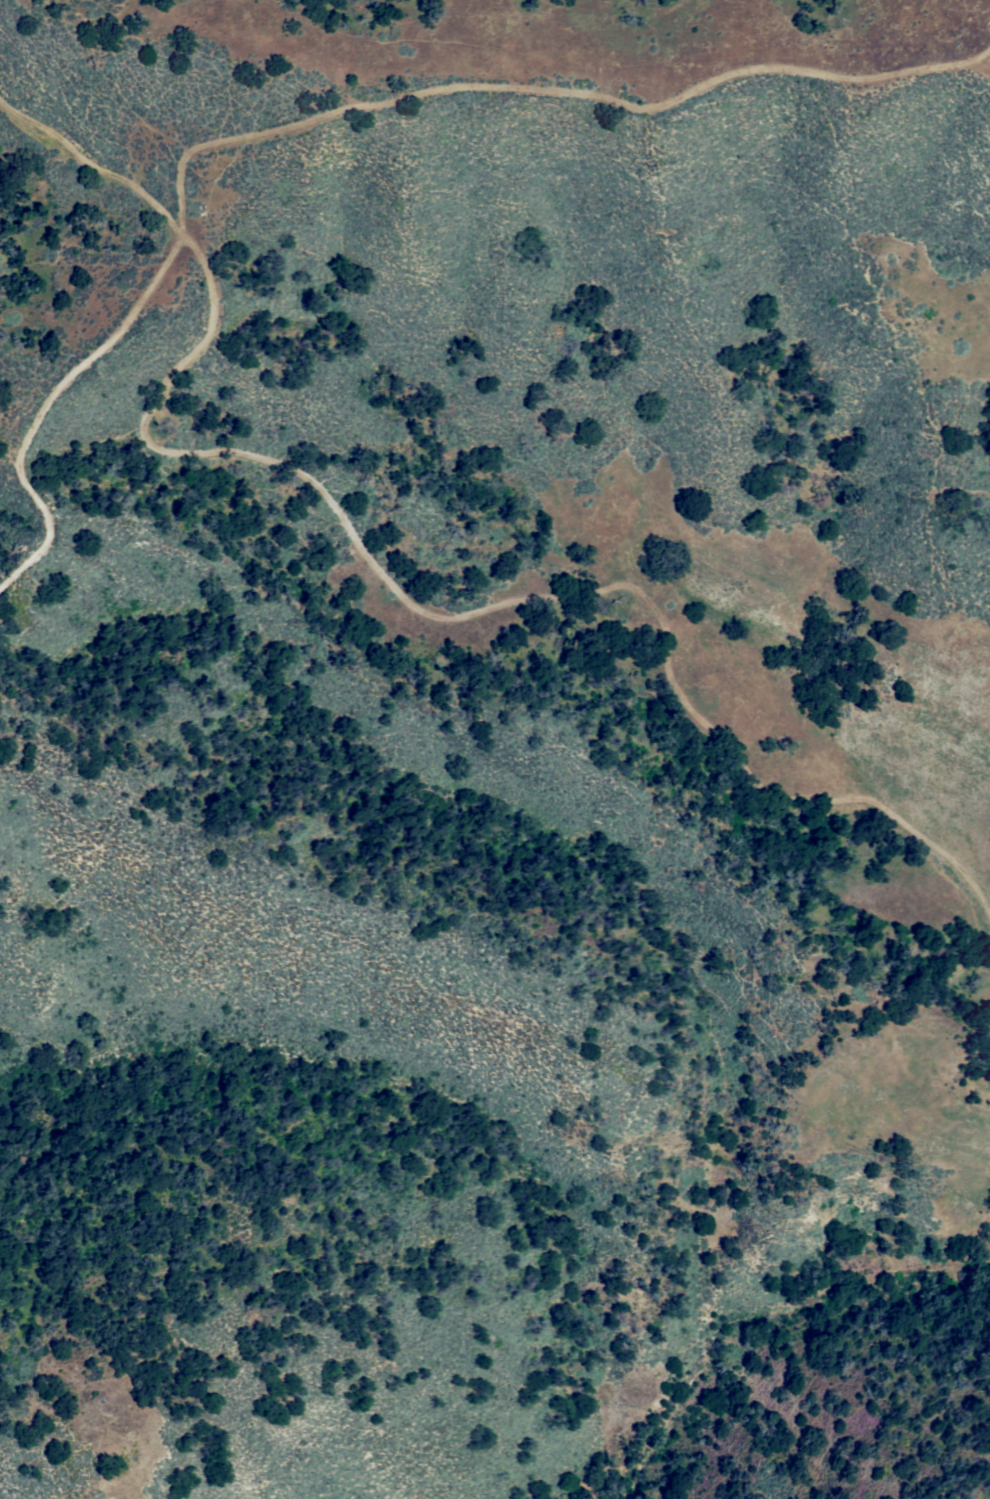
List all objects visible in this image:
park: (504, 1169)

